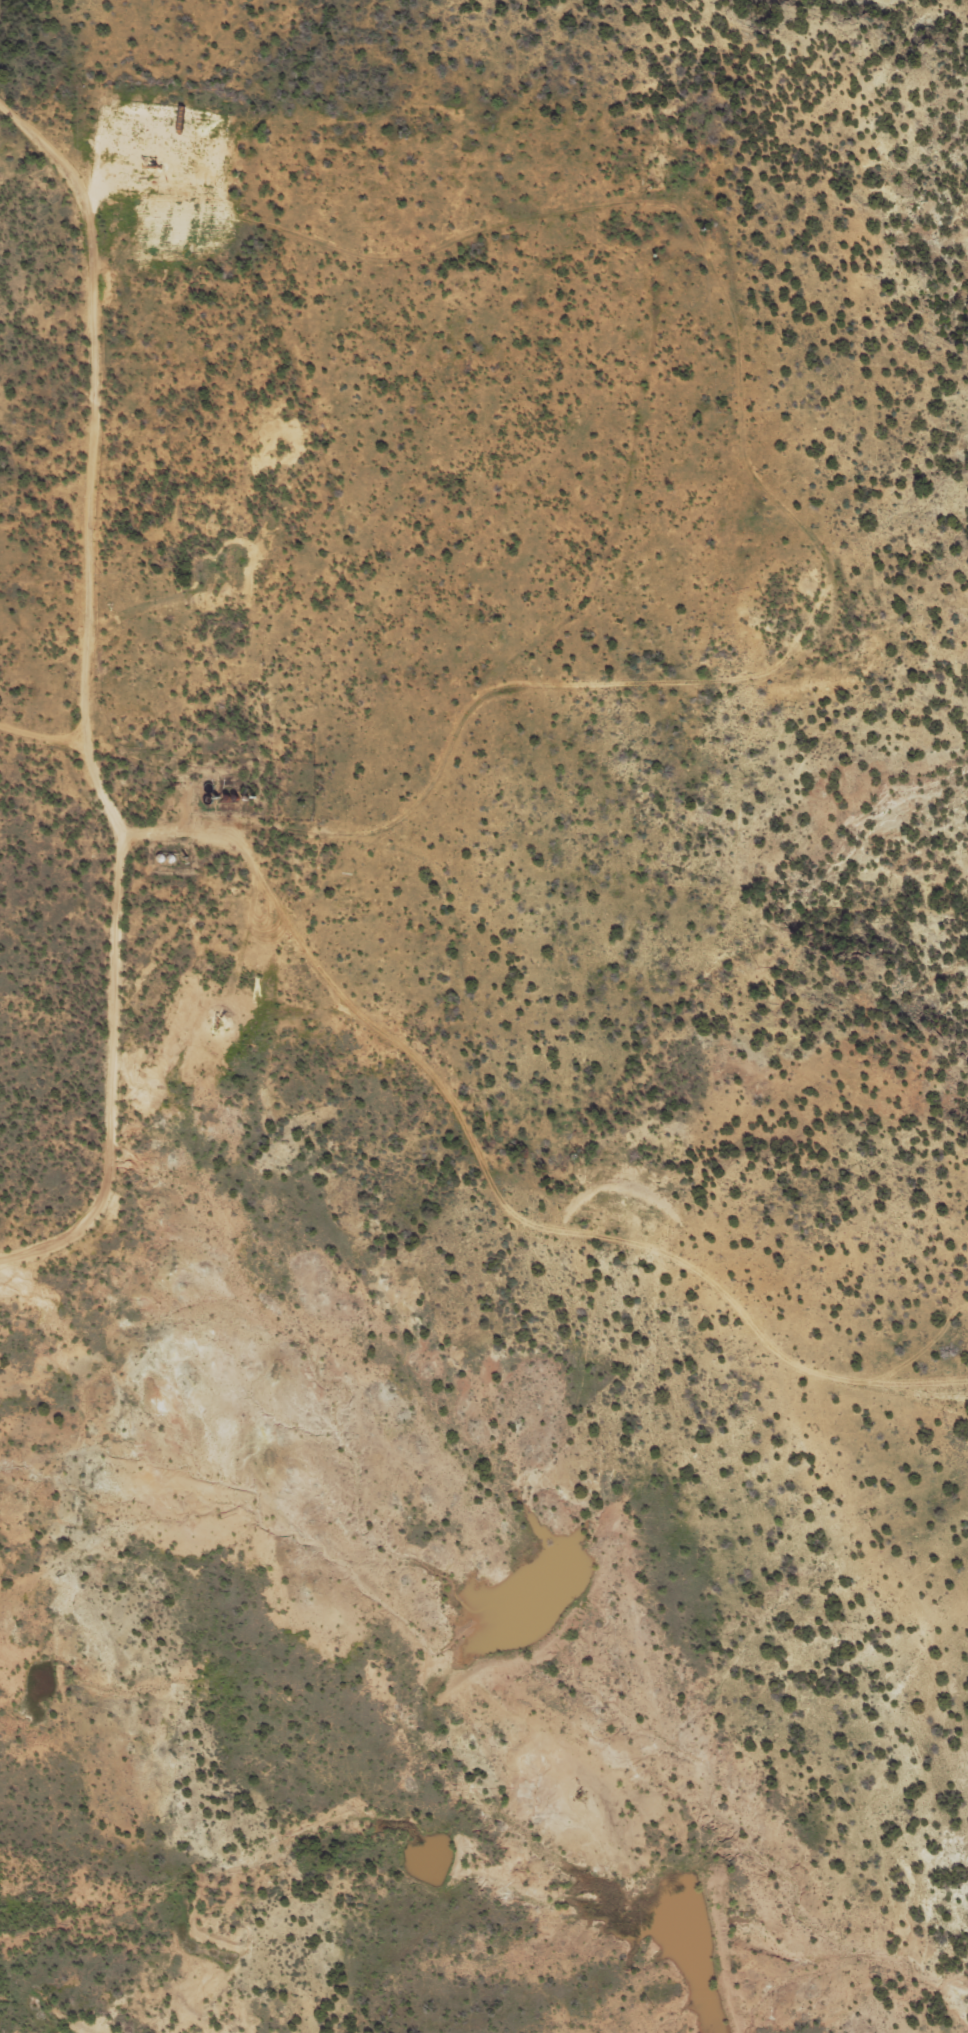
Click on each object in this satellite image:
road: (671, 448)
road: (57, 612)
road: (669, 697)
road: (127, 719)
road: (577, 1203)
road: (505, 1656)

